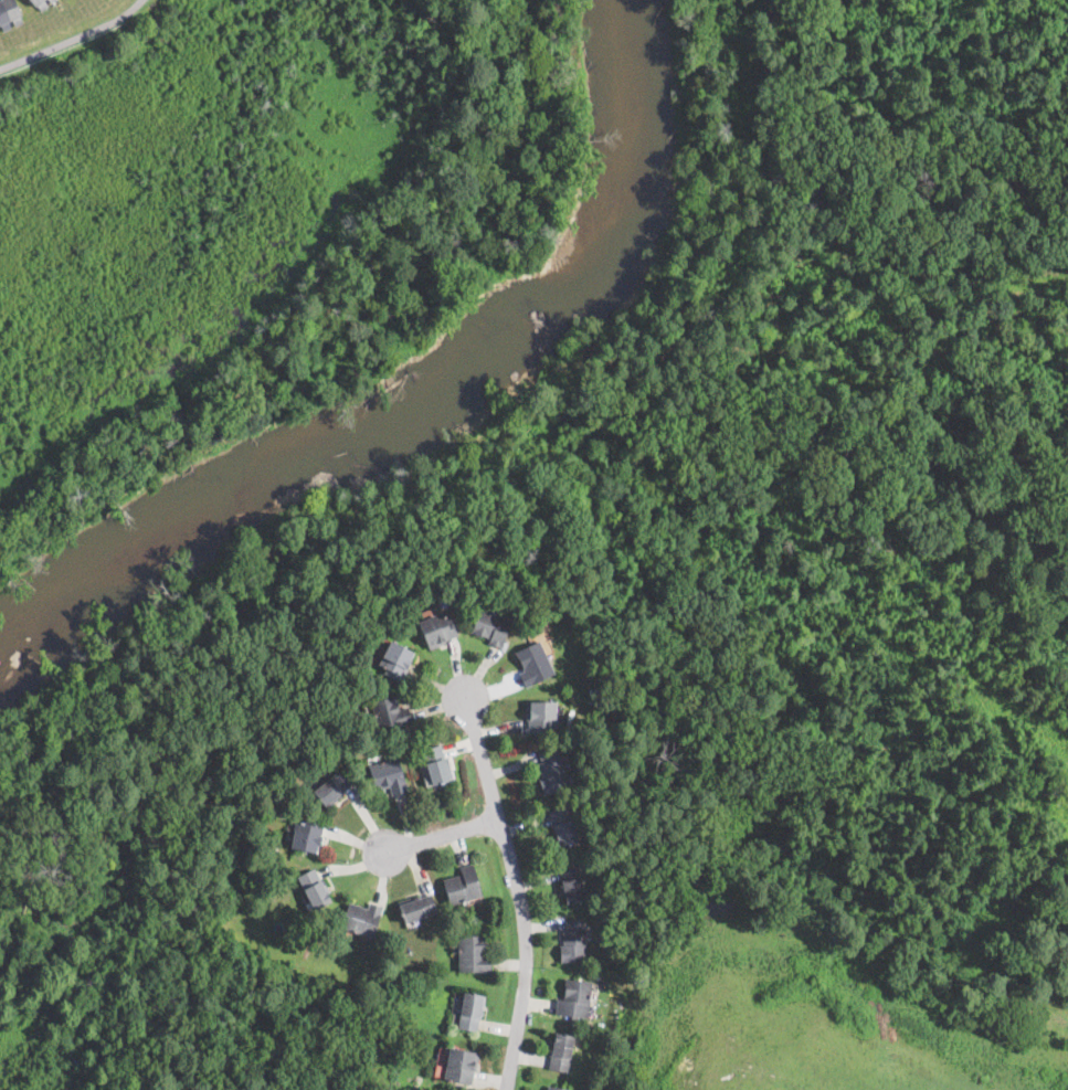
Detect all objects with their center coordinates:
building: (53, 1)
building: (41, 4)
building: (12, 10)
building: (4, 18)
road: (73, 39)
park: (253, 218)
river: (420, 396)
building: (491, 627)
building: (435, 631)
building: (396, 660)
building: (532, 664)
building: (567, 688)
building: (389, 713)
building: (540, 716)
building: (618, 728)
building: (436, 765)
building: (551, 772)
building: (388, 776)
building: (332, 789)
building: (562, 826)
road: (444, 835)
building: (307, 836)
building: (571, 883)
building: (463, 886)
building: (315, 889)
road: (519, 892)
building: (417, 908)
building: (361, 919)
building: (573, 942)
building: (473, 954)
building: (575, 998)
building: (470, 1012)
building: (560, 1054)
building: (461, 1065)
building: (554, 1088)

